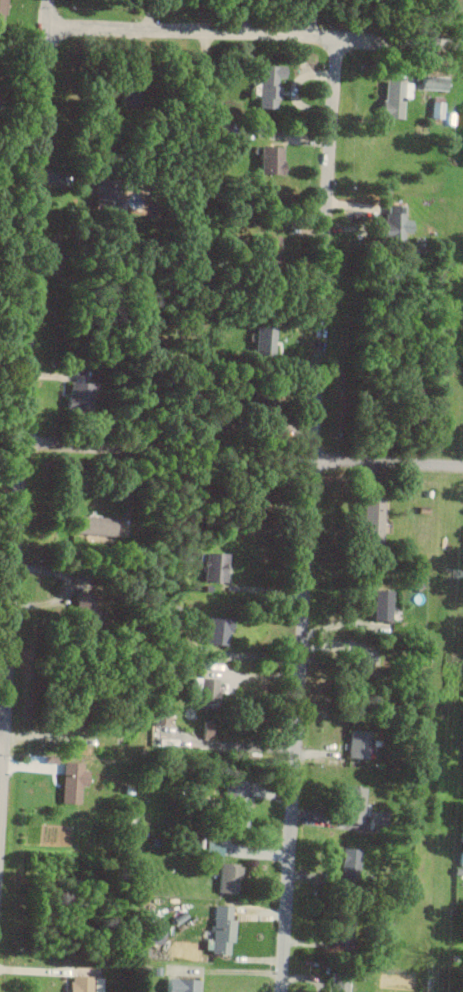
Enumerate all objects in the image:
building: (2, 13)
road: (254, 33)
building: (432, 82)
building: (267, 85)
building: (121, 95)
building: (393, 98)
building: (434, 110)
road: (19, 116)
road: (332, 120)
road: (31, 121)
building: (214, 126)
road: (19, 137)
building: (268, 160)
building: (392, 224)
building: (268, 249)
building: (262, 340)
building: (77, 396)
road: (24, 408)
road: (316, 414)
road: (74, 444)
road: (388, 463)
building: (370, 518)
building: (92, 525)
building: (212, 566)
power tower: (451, 574)
road: (67, 588)
building: (380, 604)
building: (78, 607)
building: (213, 629)
road: (253, 655)
road: (251, 674)
building: (200, 690)
building: (158, 713)
road: (296, 726)
building: (204, 728)
road: (2, 737)
building: (354, 743)
building: (69, 781)
building: (234, 802)
building: (350, 803)
building: (373, 818)
building: (211, 847)
building: (459, 858)
building: (346, 863)
building: (457, 870)
building: (226, 877)
building: (218, 930)
building: (330, 982)
building: (83, 984)
building: (179, 985)

